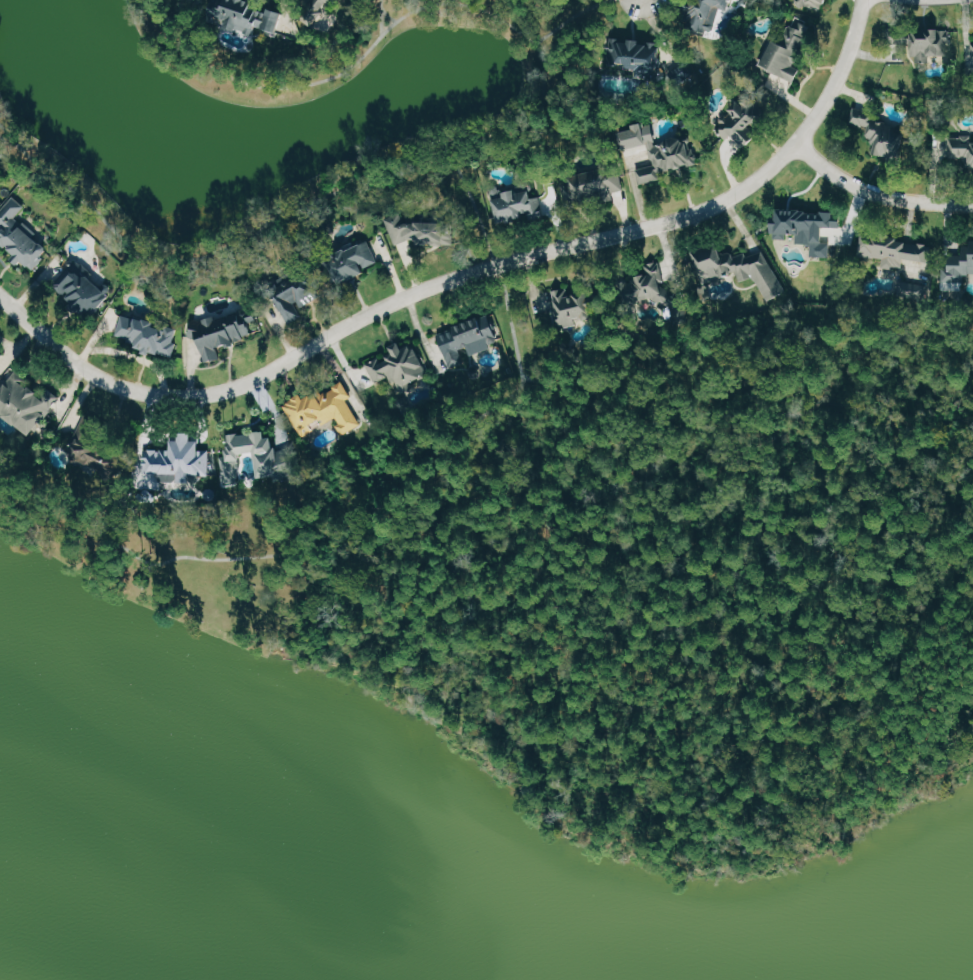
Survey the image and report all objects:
building: (813, 3)
building: (707, 13)
building: (320, 15)
road: (387, 15)
building: (248, 16)
road: (379, 17)
road: (568, 18)
building: (895, 36)
building: (932, 46)
building: (972, 46)
building: (790, 50)
building: (639, 58)
building: (741, 124)
road: (499, 134)
building: (881, 134)
building: (962, 148)
building: (660, 151)
building: (593, 186)
road: (878, 194)
building: (1, 195)
building: (417, 223)
building: (19, 237)
building: (898, 252)
road: (492, 255)
building: (347, 261)
building: (959, 265)
building: (737, 270)
road: (464, 274)
building: (78, 291)
building: (662, 293)
building: (291, 296)
building: (571, 306)
building: (221, 330)
building: (141, 335)
building: (463, 341)
building: (4, 359)
building: (394, 363)
building: (0, 375)
building: (18, 403)
building: (317, 409)
road: (466, 423)
building: (80, 449)
building: (233, 450)
building: (174, 459)
building: (277, 461)

